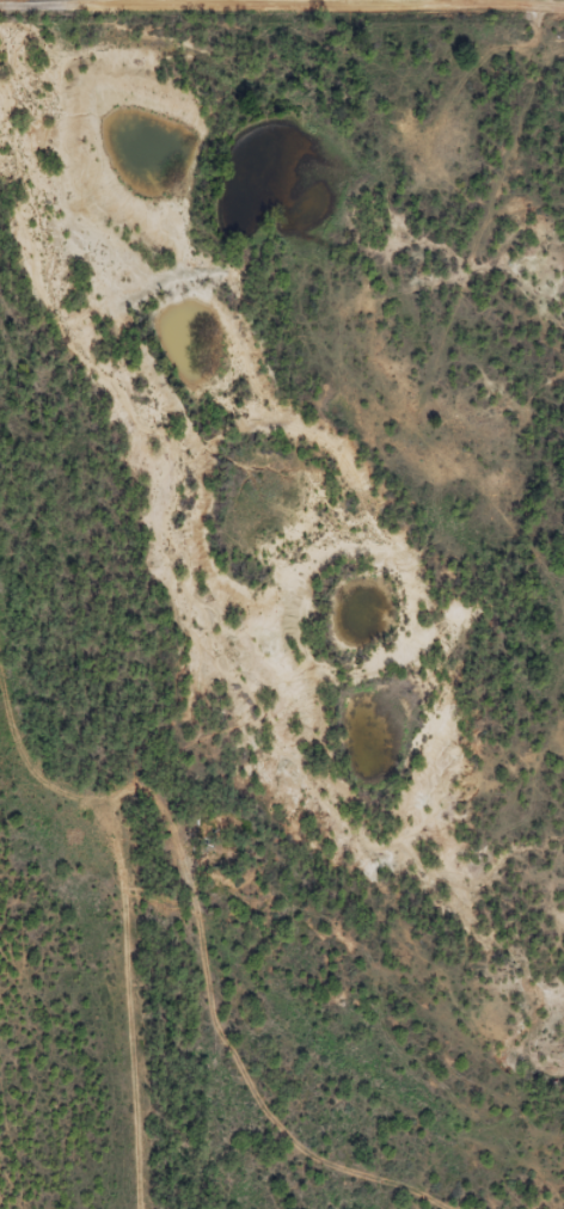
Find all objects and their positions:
road: (282, 1)
road: (440, 362)
road: (258, 1135)

